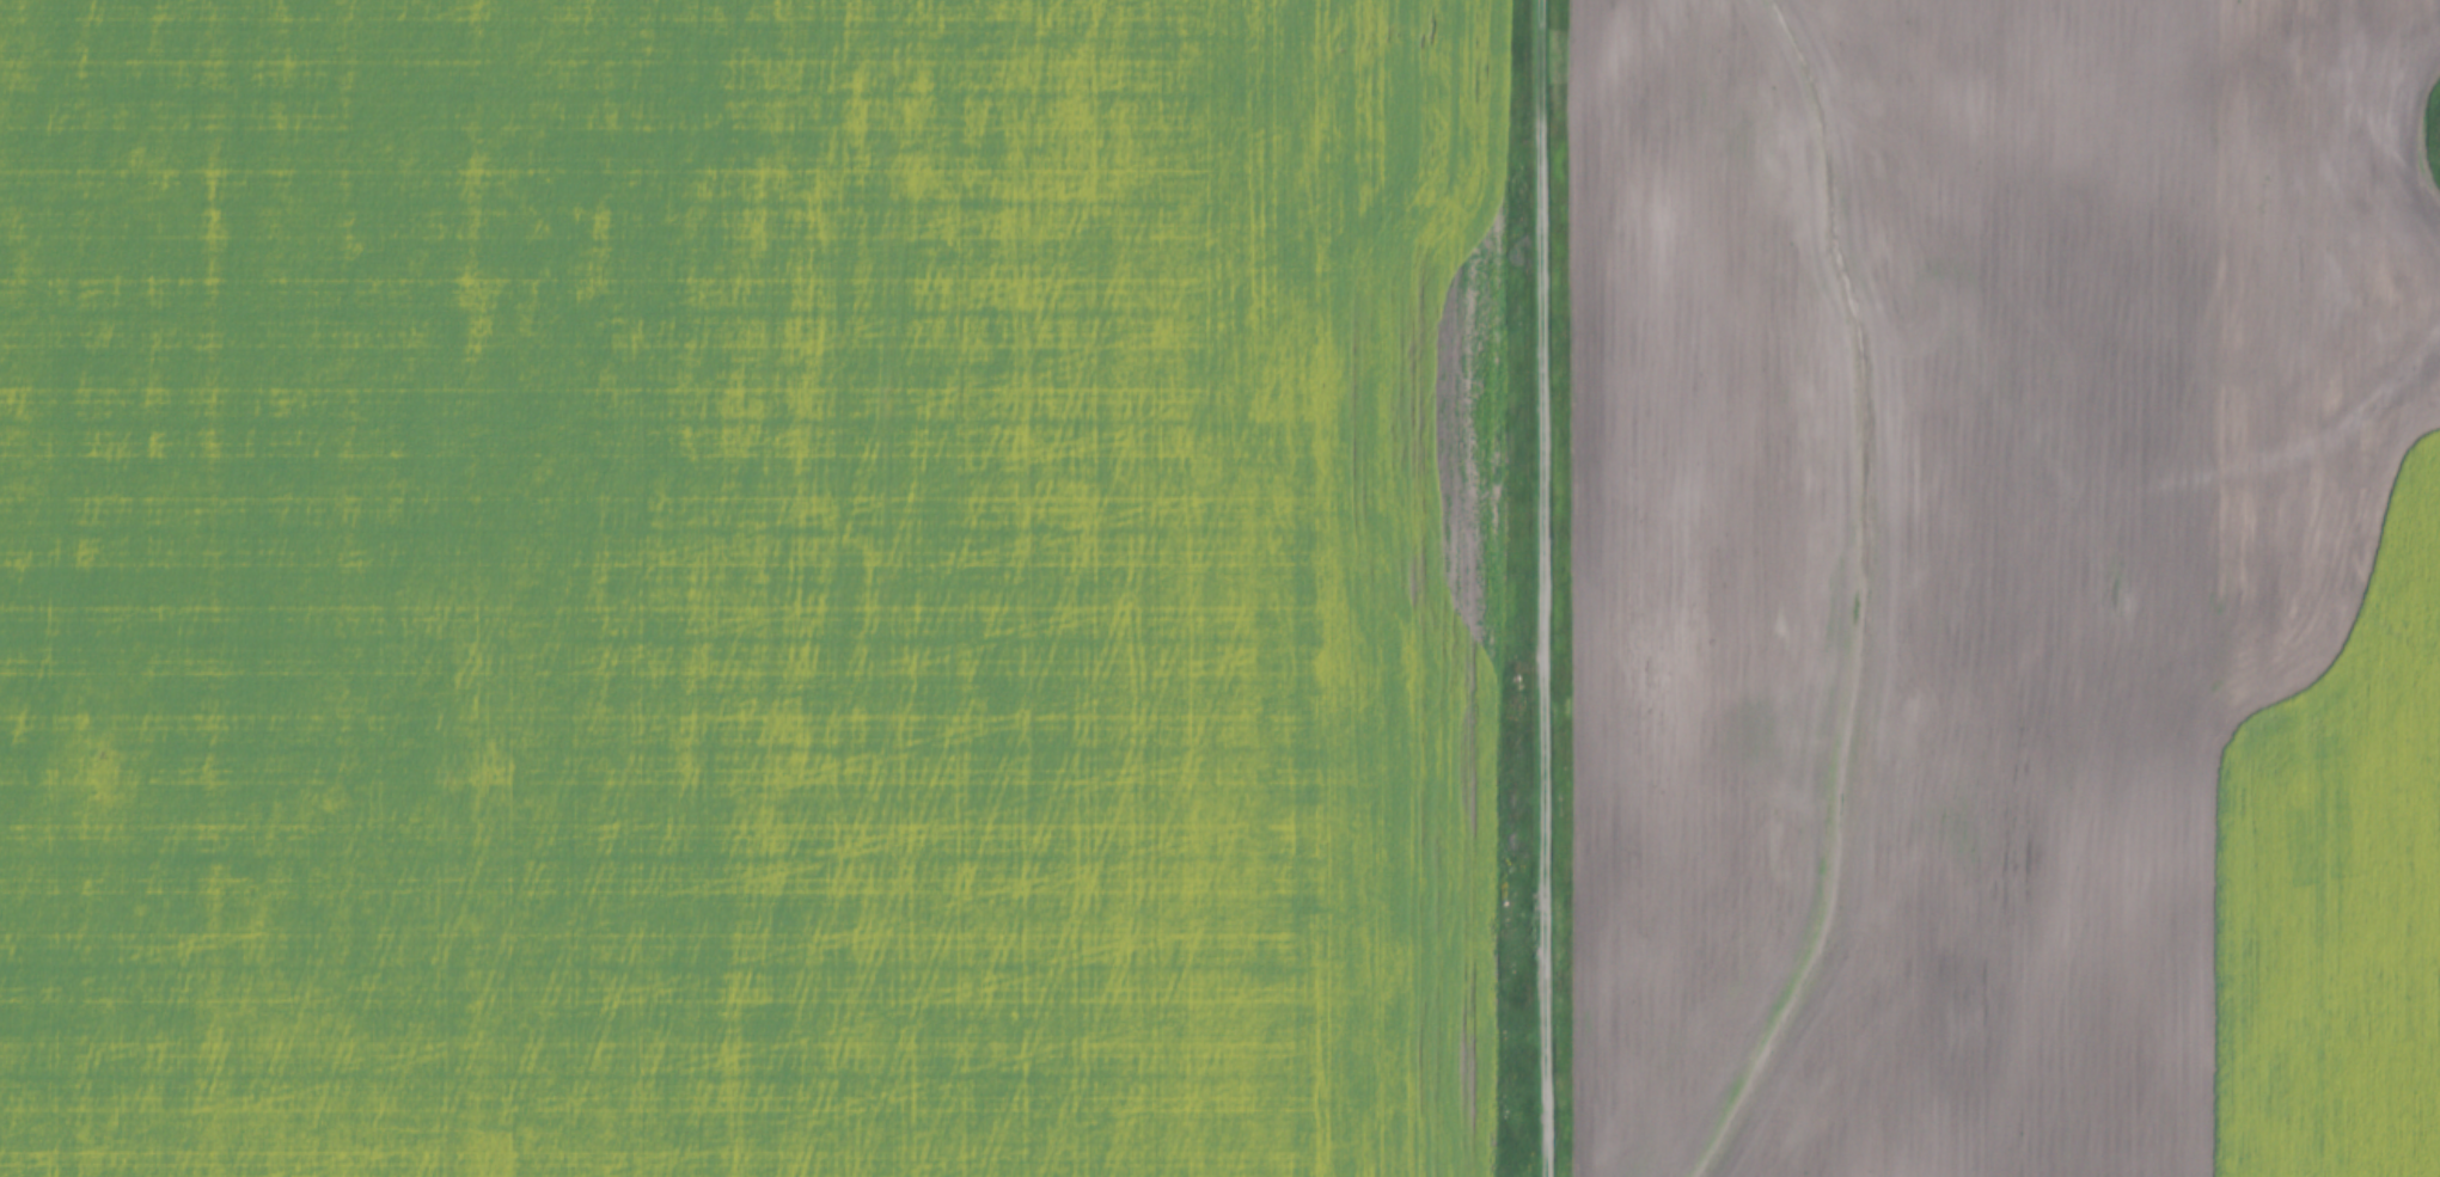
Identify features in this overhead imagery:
road: (1547, 588)

